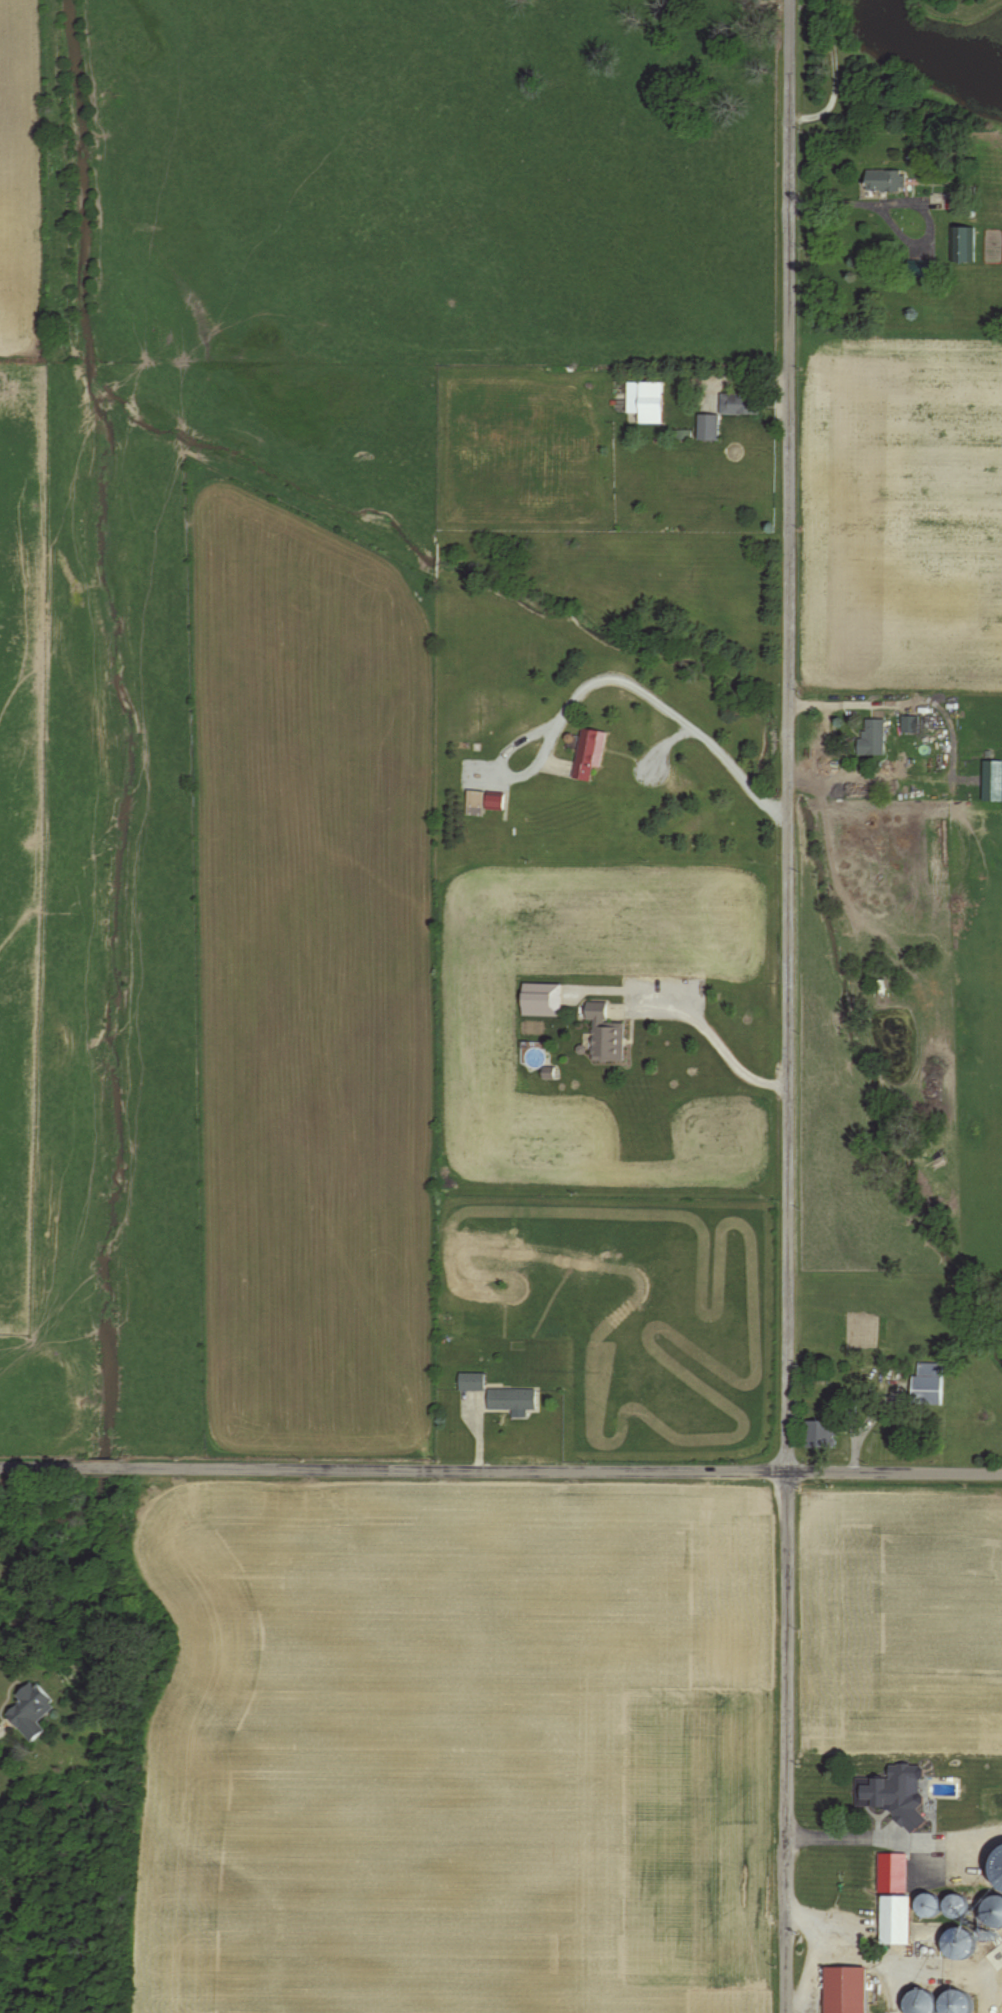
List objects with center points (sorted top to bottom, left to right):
road: (831, 2)
road: (831, 7)
road: (834, 81)
building: (883, 180)
road: (910, 202)
building: (962, 245)
building: (921, 269)
building: (642, 402)
building: (738, 405)
building: (706, 427)
road: (602, 680)
road: (844, 704)
building: (871, 736)
building: (587, 752)
building: (992, 786)
building: (482, 802)
road: (786, 1006)
building: (603, 1033)
road: (711, 1039)
building: (469, 1381)
building: (926, 1384)
building: (509, 1399)
building: (818, 1435)
road: (501, 1468)
building: (28, 1710)
building: (876, 1791)
building: (990, 1800)
building: (944, 1813)
road: (893, 1840)
silo: (997, 1865)
building: (889, 1870)
silo: (925, 1903)
building: (924, 1904)
silo: (955, 1904)
building: (953, 1905)
silo: (994, 1907)
building: (992, 1909)
building: (892, 1919)
silo: (958, 1939)
building: (956, 1941)
road: (856, 1954)
road: (940, 1969)
road: (810, 1972)
road: (987, 1981)
building: (844, 1989)
silo: (918, 2001)
building: (950, 2001)
building: (918, 2002)
silo: (956, 2002)

